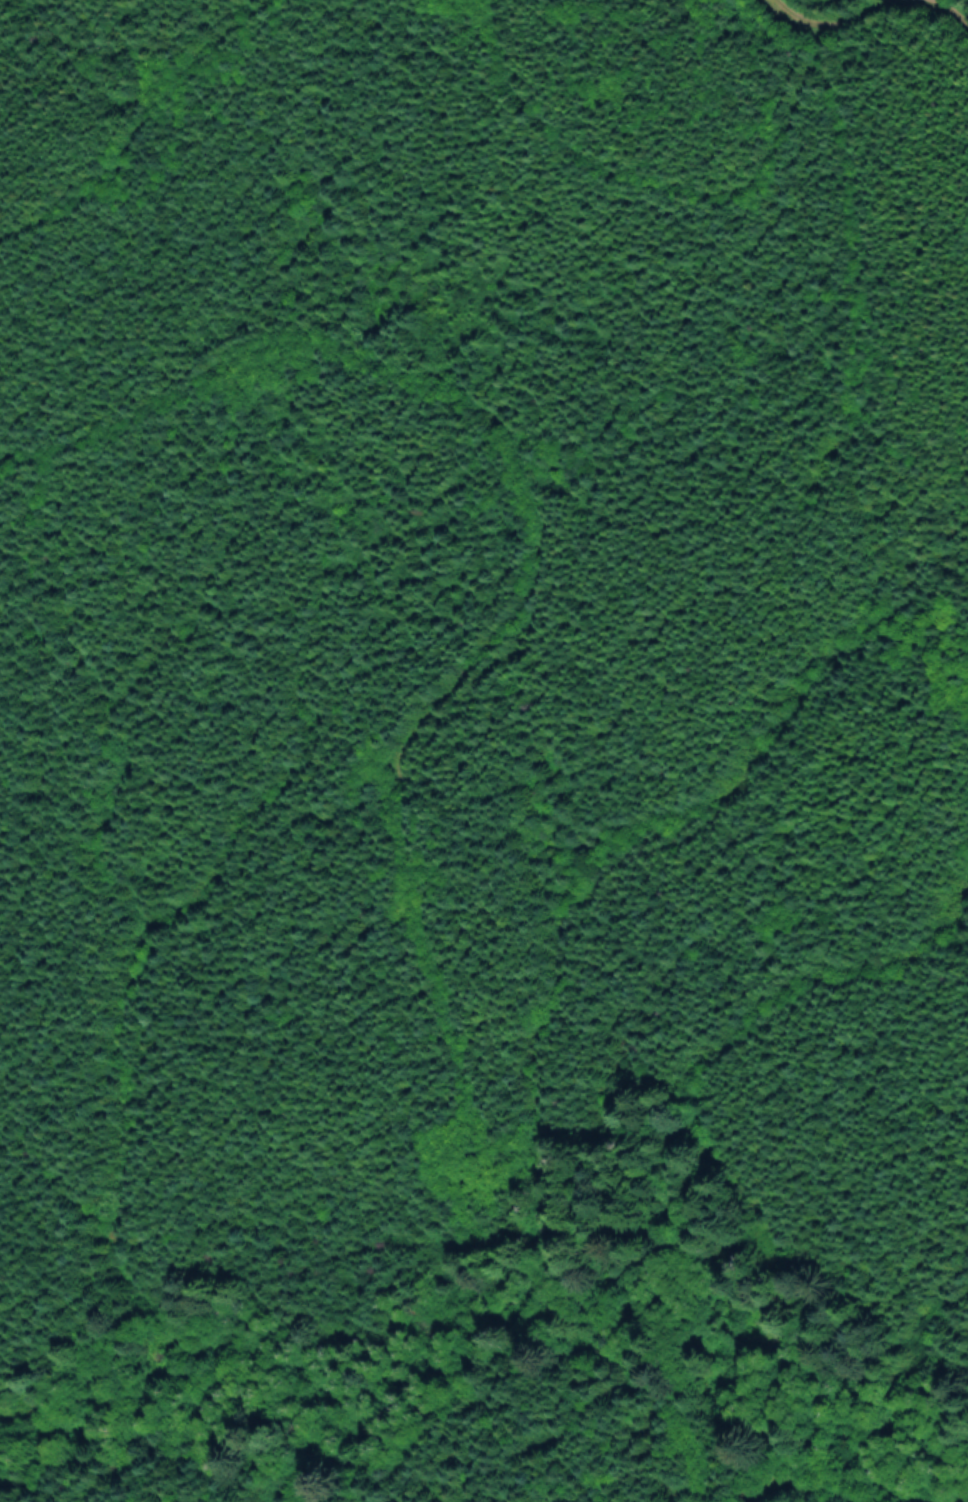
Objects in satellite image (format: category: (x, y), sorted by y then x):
road: (726, 1467)

